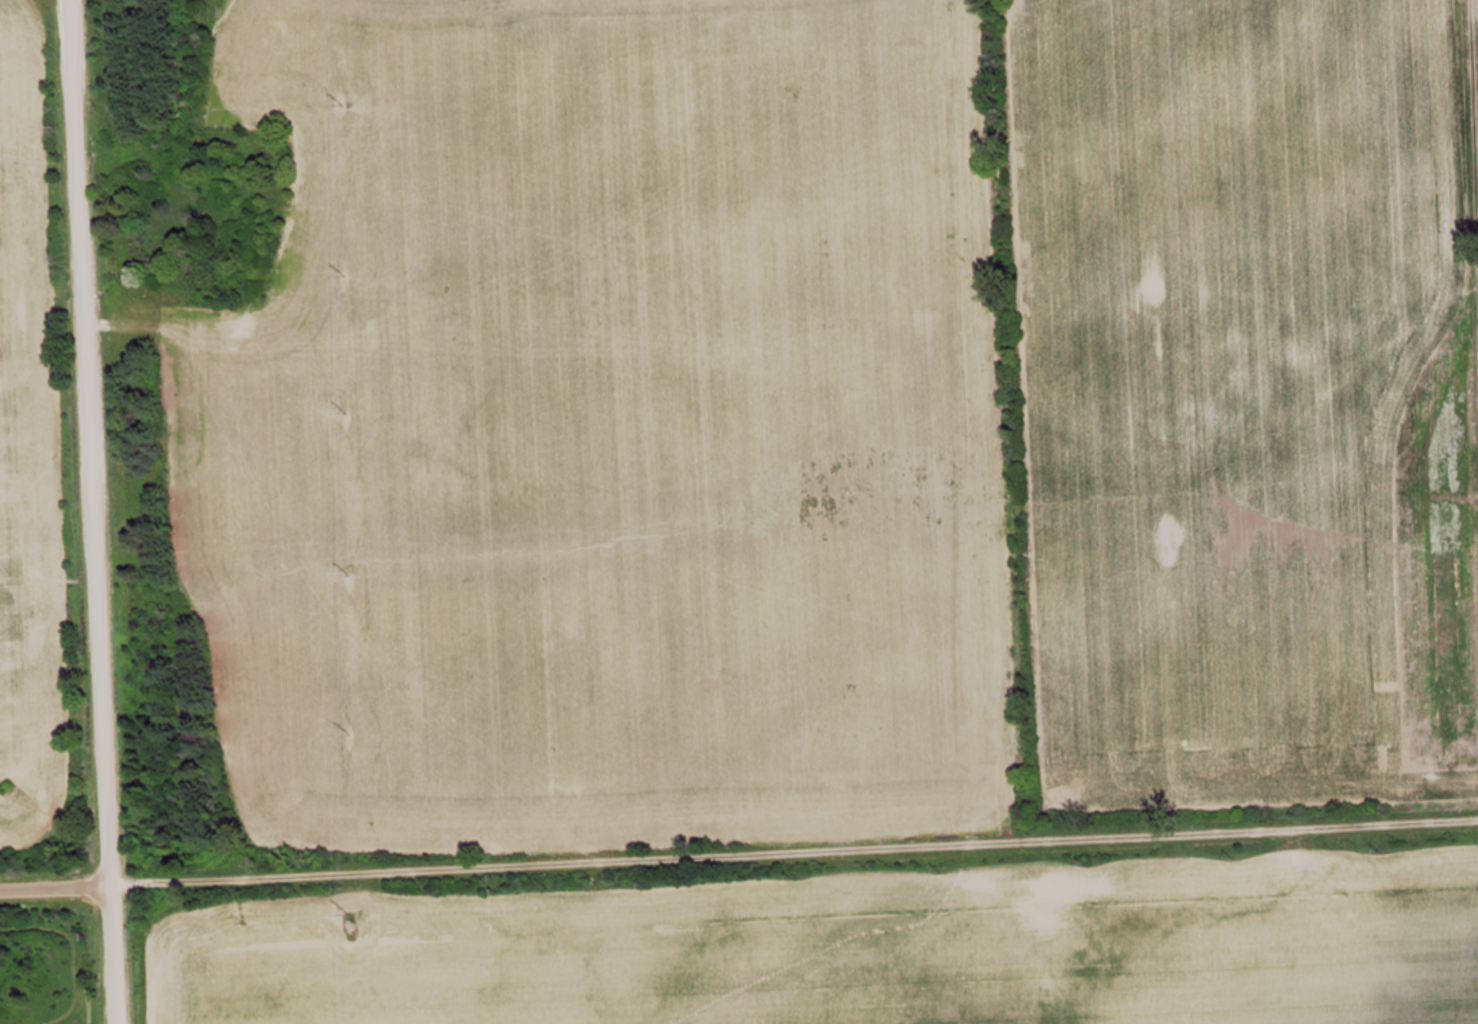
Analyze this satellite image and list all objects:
road: (1475, 116)
road: (90, 511)
road: (738, 851)

